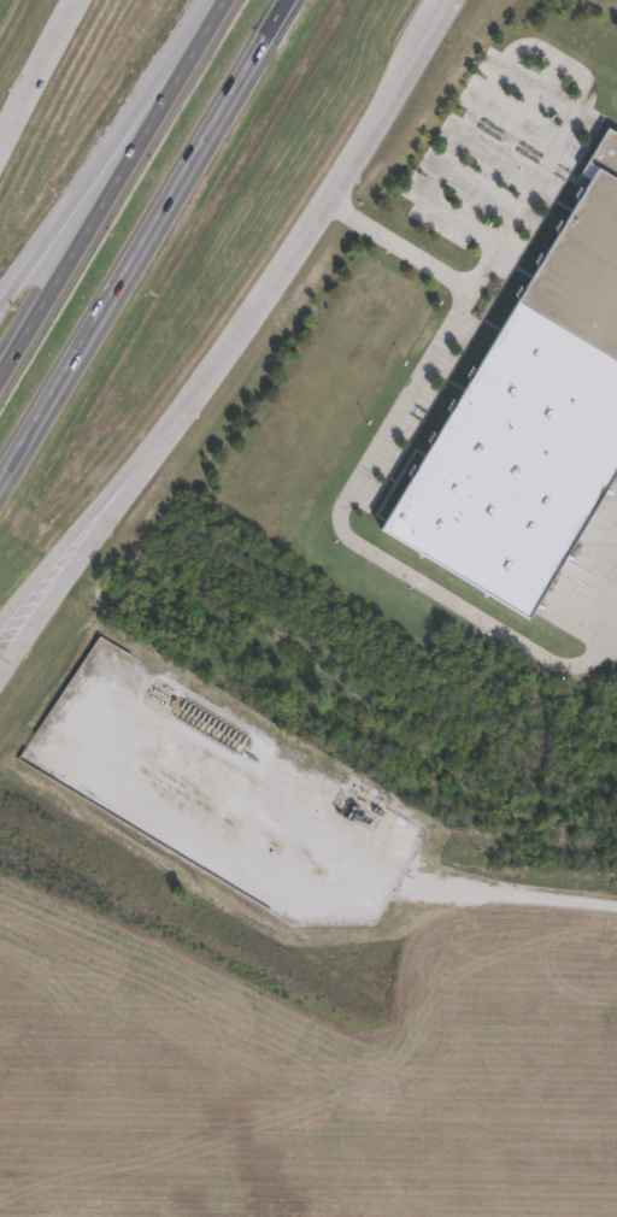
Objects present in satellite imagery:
road: (217, 8)
road: (543, 55)
road: (41, 76)
road: (102, 158)
road: (106, 195)
road: (142, 240)
road: (295, 251)
building: (528, 417)
road: (354, 483)
road: (60, 555)
road: (60, 578)
road: (316, 837)
road: (507, 896)

